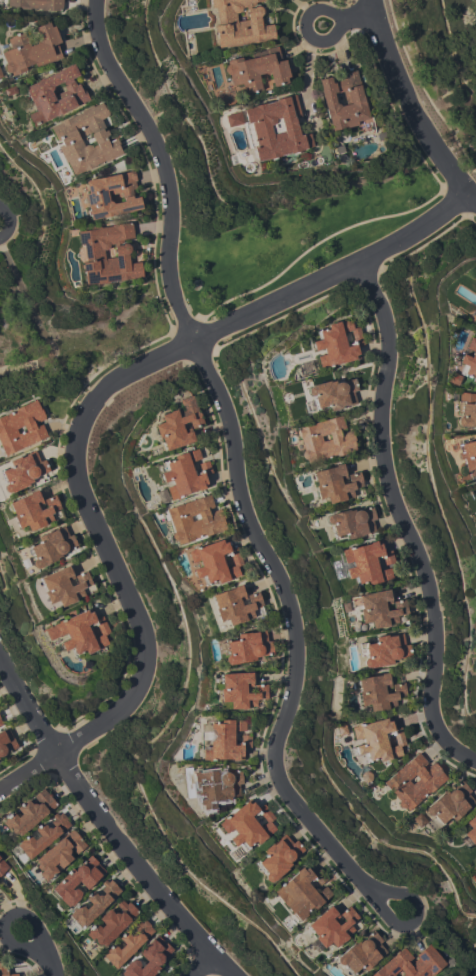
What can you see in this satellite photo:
building: (36, 4)
road: (356, 18)
building: (240, 23)
road: (304, 26)
building: (31, 49)
building: (256, 69)
building: (54, 94)
building: (344, 102)
road: (412, 109)
building: (233, 119)
building: (274, 128)
building: (85, 139)
building: (111, 195)
building: (93, 255)
building: (474, 276)
road: (290, 298)
building: (474, 318)
building: (474, 321)
building: (337, 343)
building: (470, 359)
building: (453, 378)
building: (333, 393)
building: (466, 409)
building: (178, 423)
building: (21, 427)
building: (325, 439)
building: (468, 454)
road: (237, 455)
building: (22, 471)
building: (184, 474)
building: (335, 483)
building: (475, 487)
building: (32, 510)
building: (194, 519)
road: (402, 519)
building: (351, 522)
building: (50, 546)
building: (215, 561)
building: (367, 562)
building: (63, 585)
road: (130, 588)
building: (234, 604)
building: (378, 608)
building: (80, 632)
building: (247, 647)
building: (384, 649)
building: (240, 690)
building: (378, 691)
building: (0, 722)
building: (341, 729)
building: (223, 740)
building: (377, 740)
building: (6, 741)
road: (27, 769)
building: (365, 776)
building: (413, 781)
building: (217, 783)
building: (450, 803)
building: (29, 812)
building: (418, 819)
road: (110, 821)
building: (248, 824)
building: (471, 829)
building: (43, 835)
building: (58, 854)
building: (278, 856)
building: (2, 866)
building: (473, 876)
building: (77, 880)
building: (302, 892)
building: (94, 903)
road: (7, 917)
road: (412, 918)
building: (111, 923)
building: (331, 926)
building: (127, 943)
building: (361, 953)
building: (147, 958)
building: (428, 959)
road: (49, 960)
road: (201, 965)
building: (3, 968)

